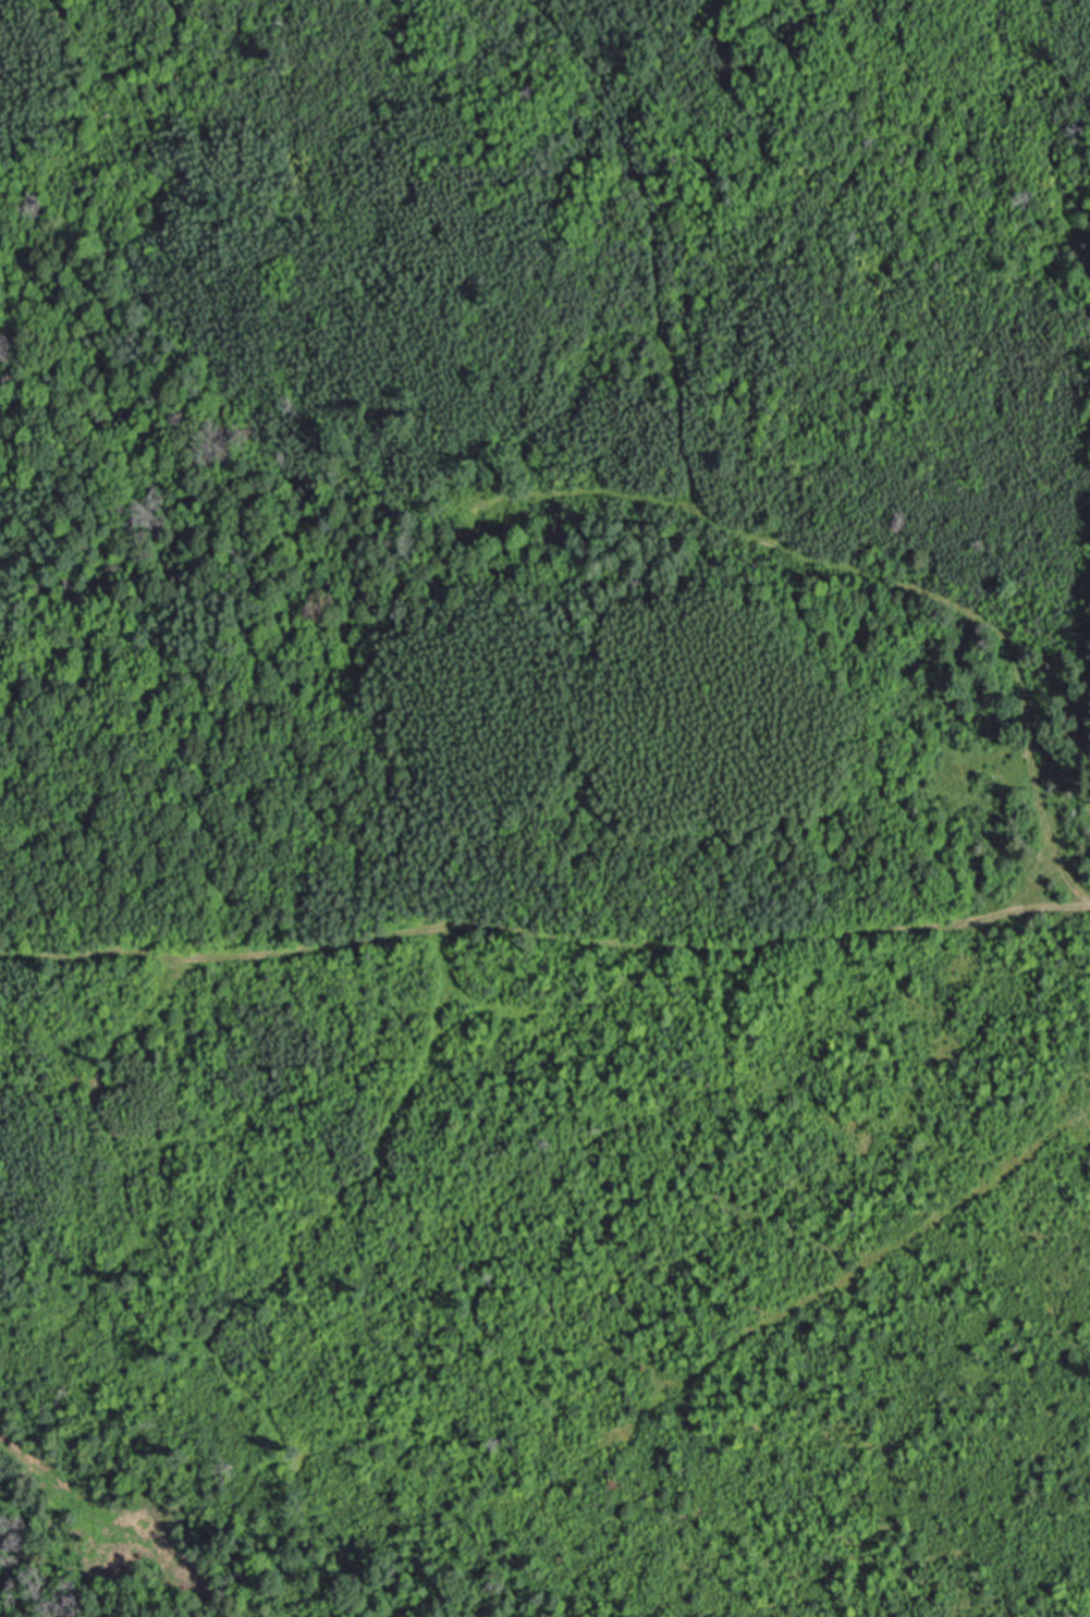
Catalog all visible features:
road: (731, 528)
road: (543, 934)

